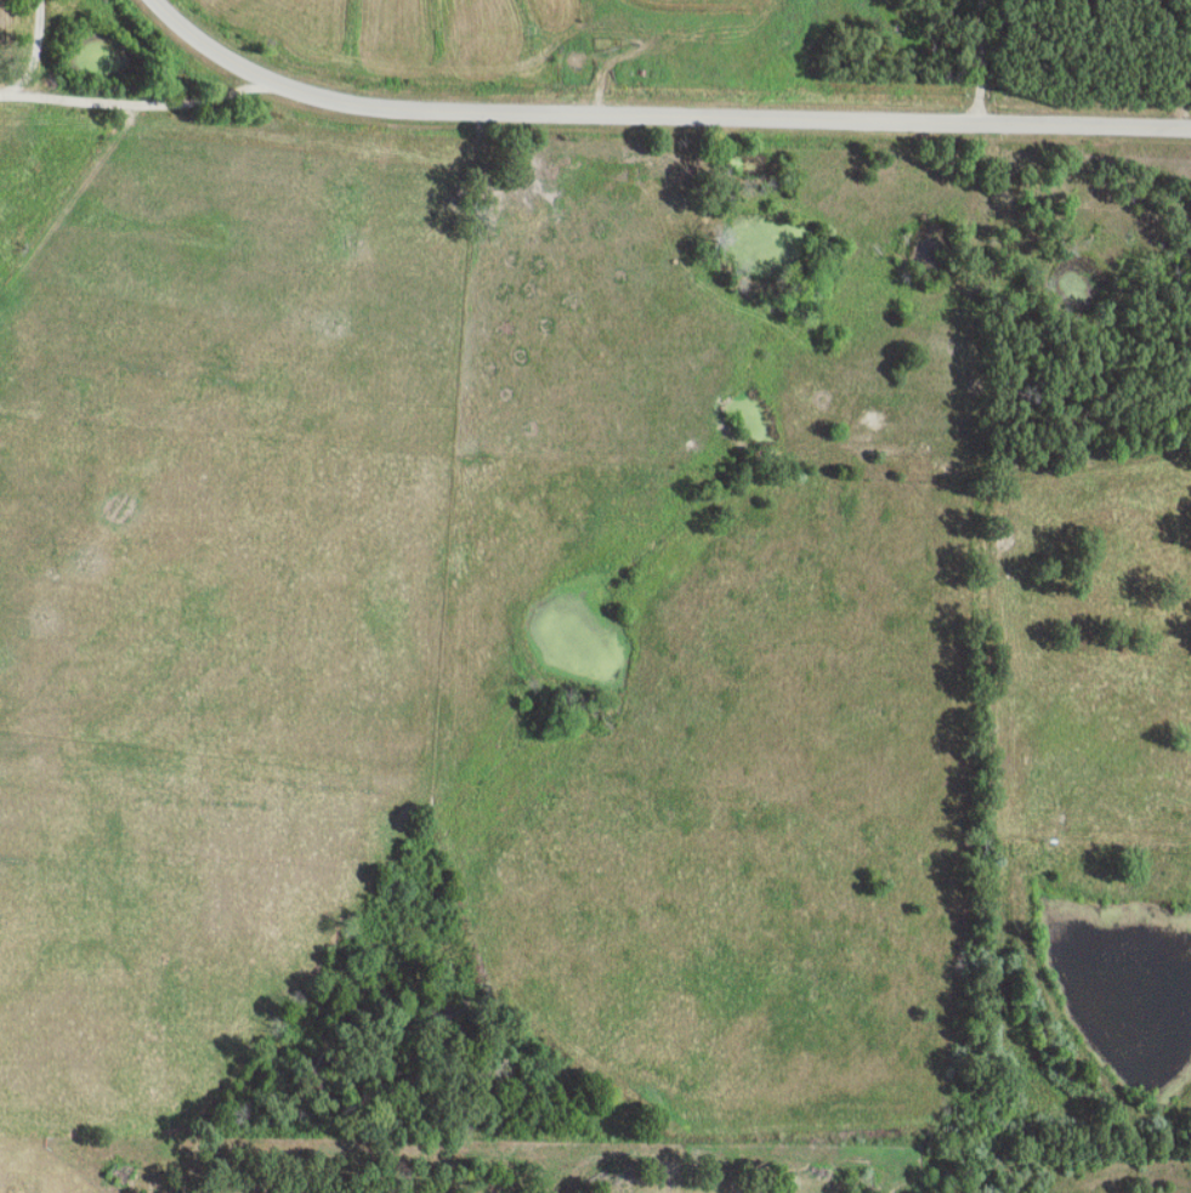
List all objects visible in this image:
road: (38, 57)
road: (983, 62)
road: (137, 107)
road: (550, 118)
road: (1085, 126)

